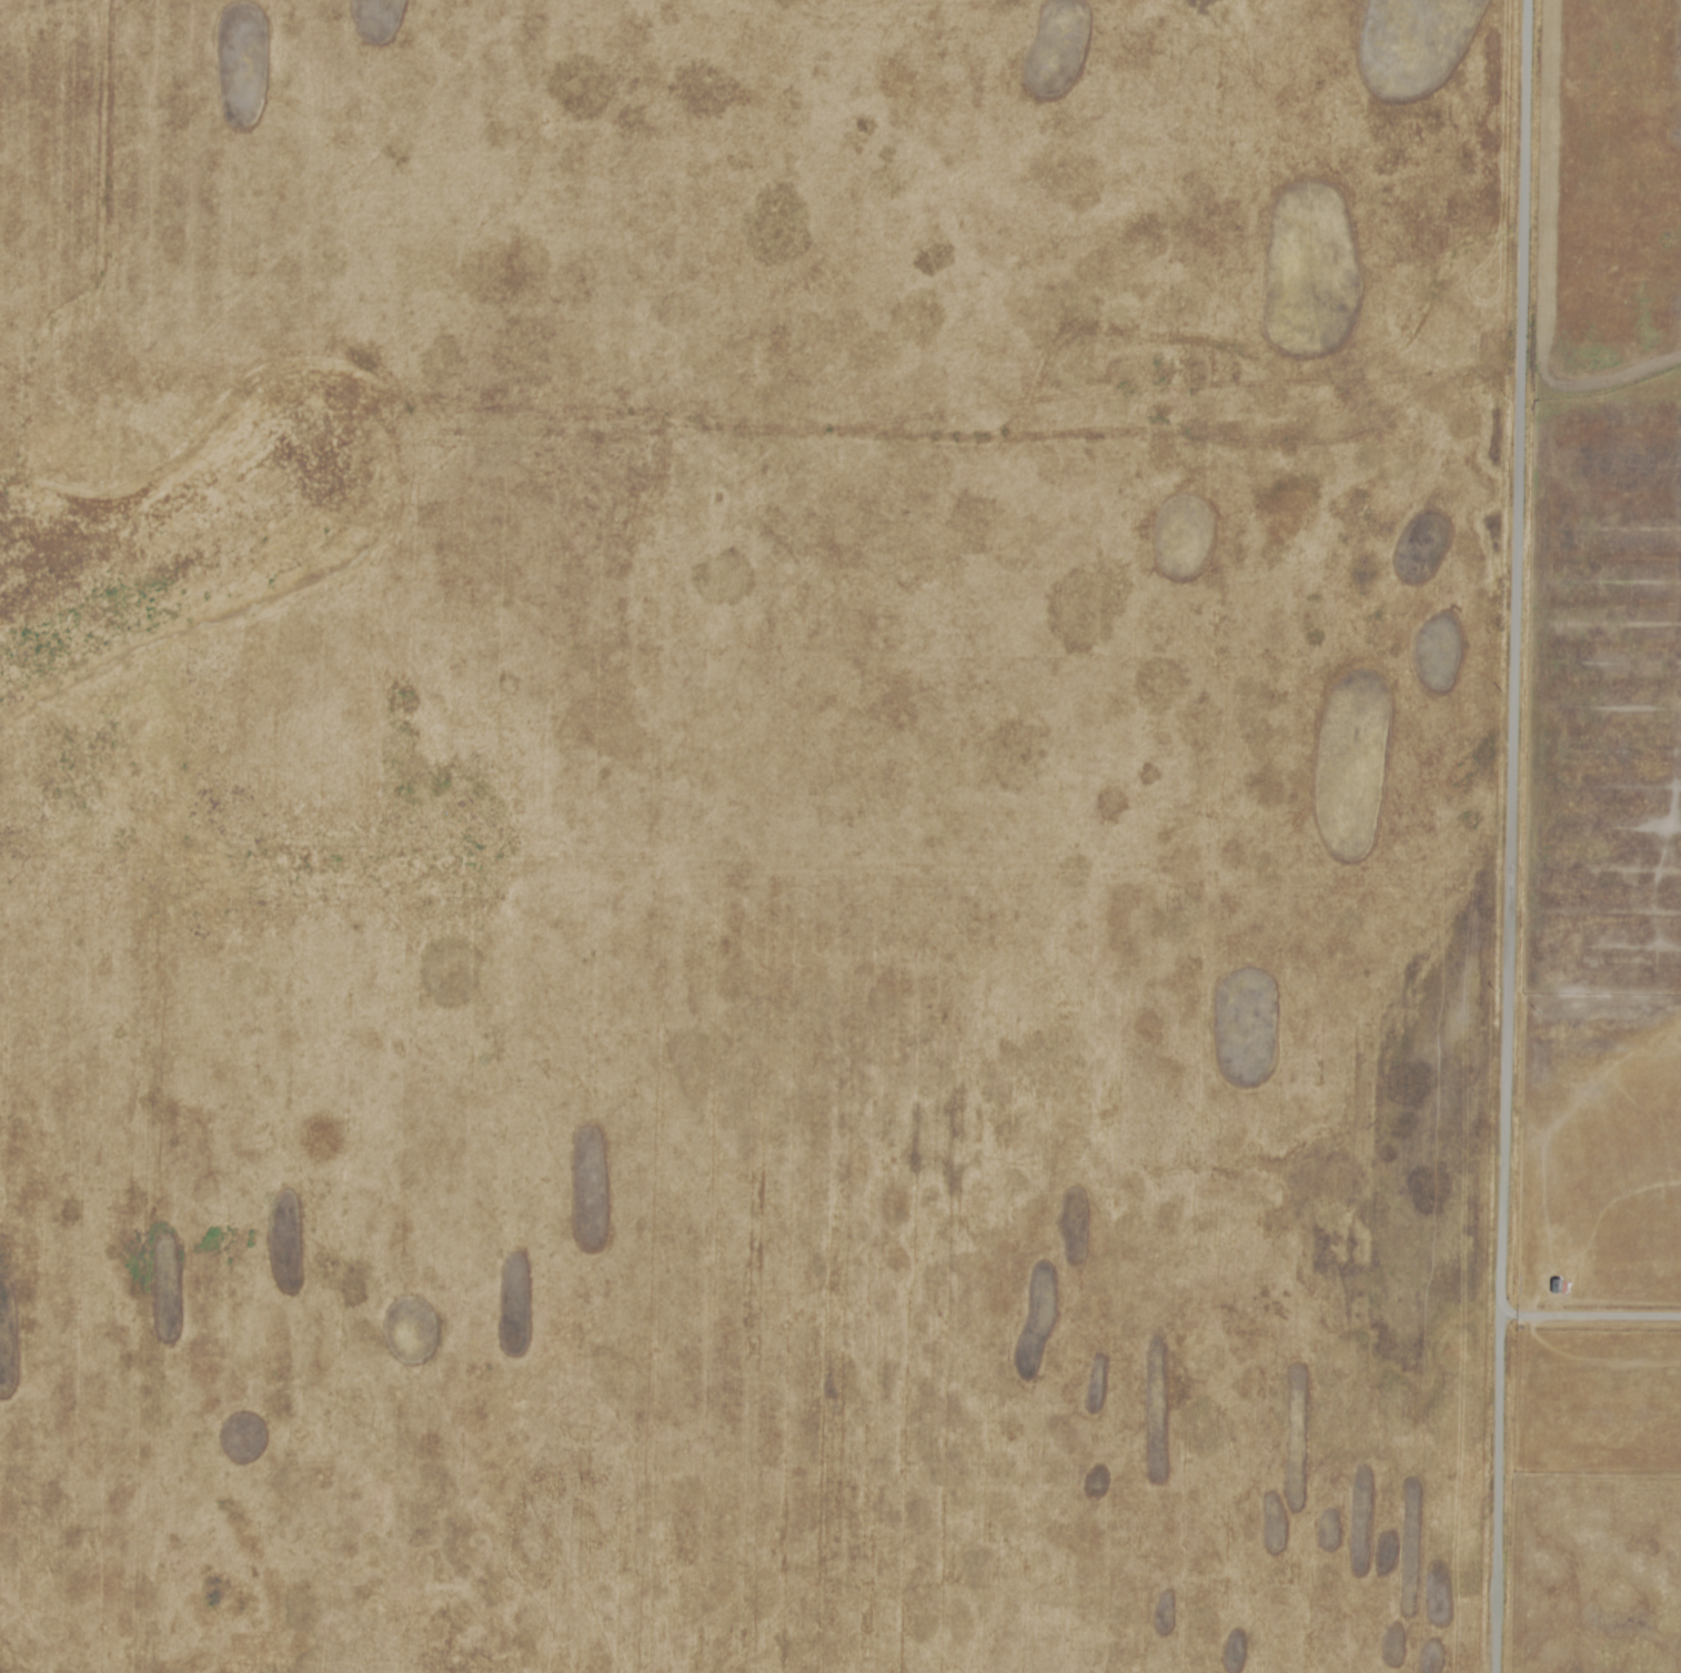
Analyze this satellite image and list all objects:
road: (995, 433)
road: (1512, 836)
road: (1592, 1316)

